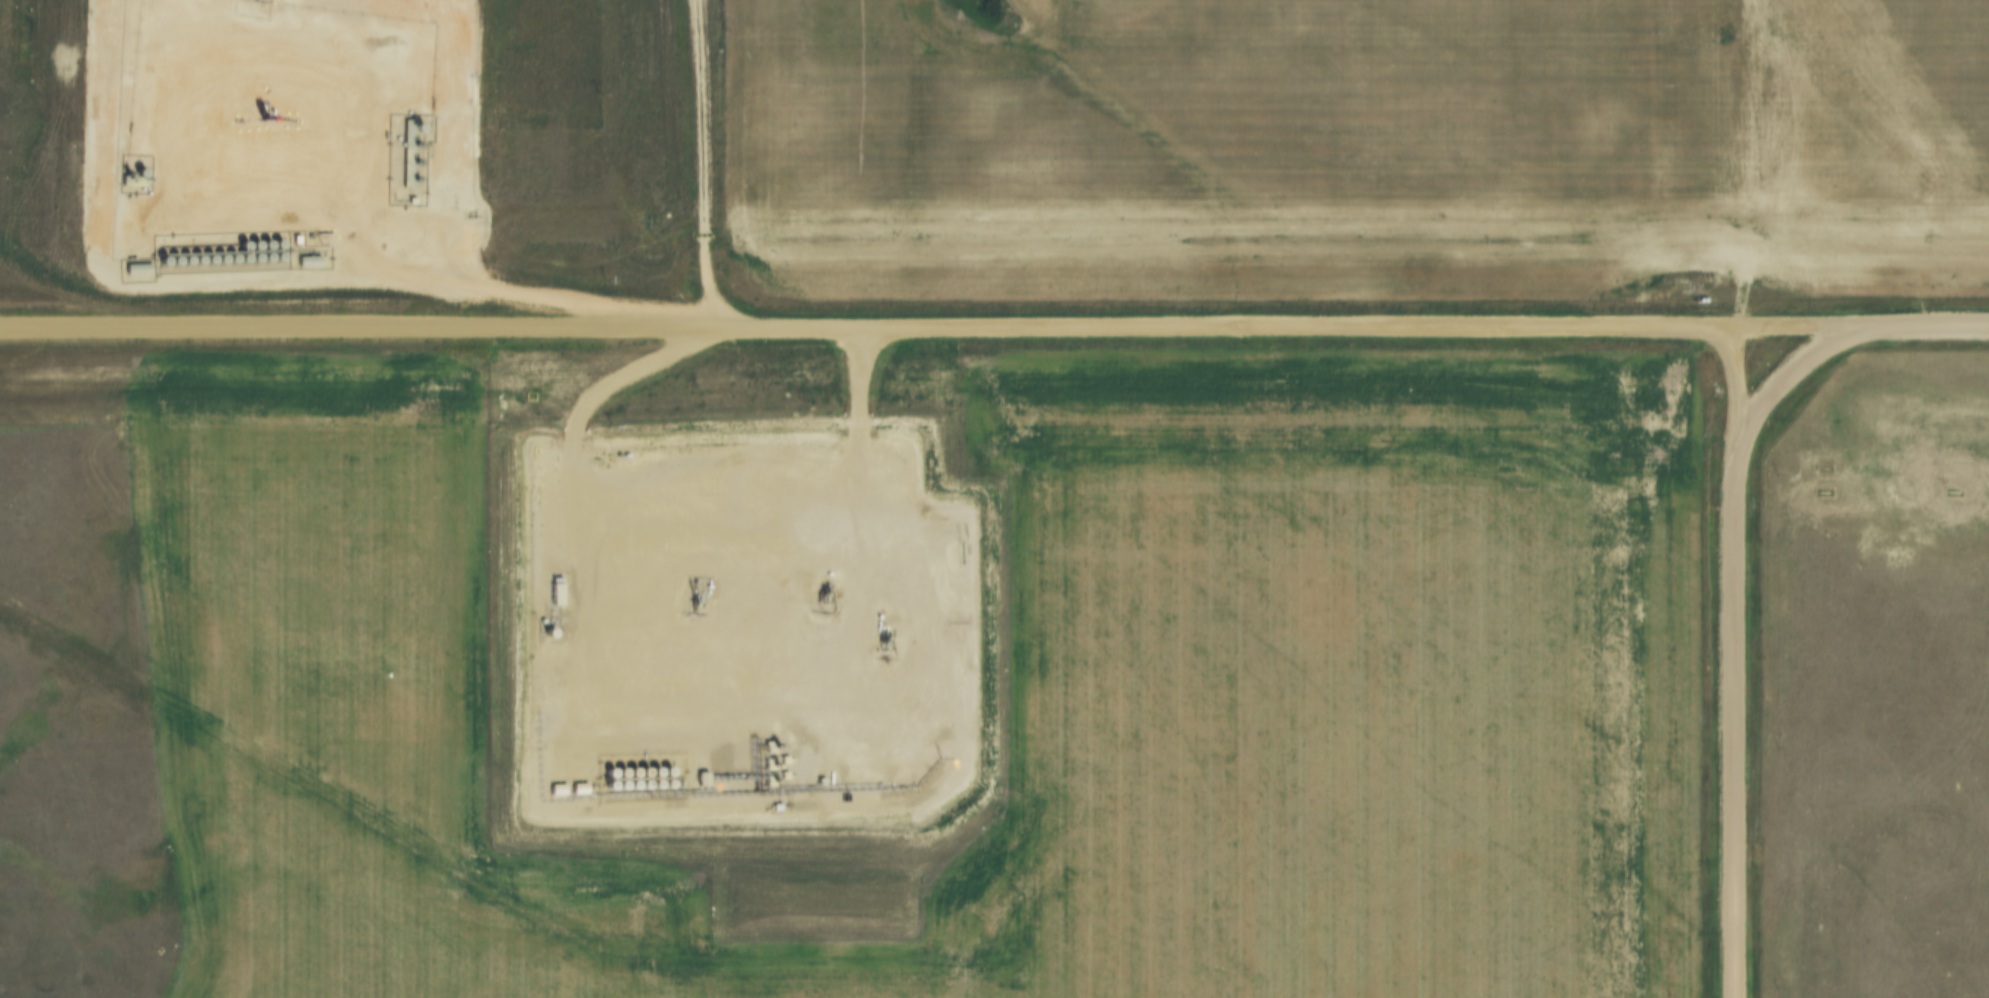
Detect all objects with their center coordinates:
road: (1128, 333)
road: (364, 338)
road: (1841, 338)
road: (1730, 378)
road: (1730, 719)

